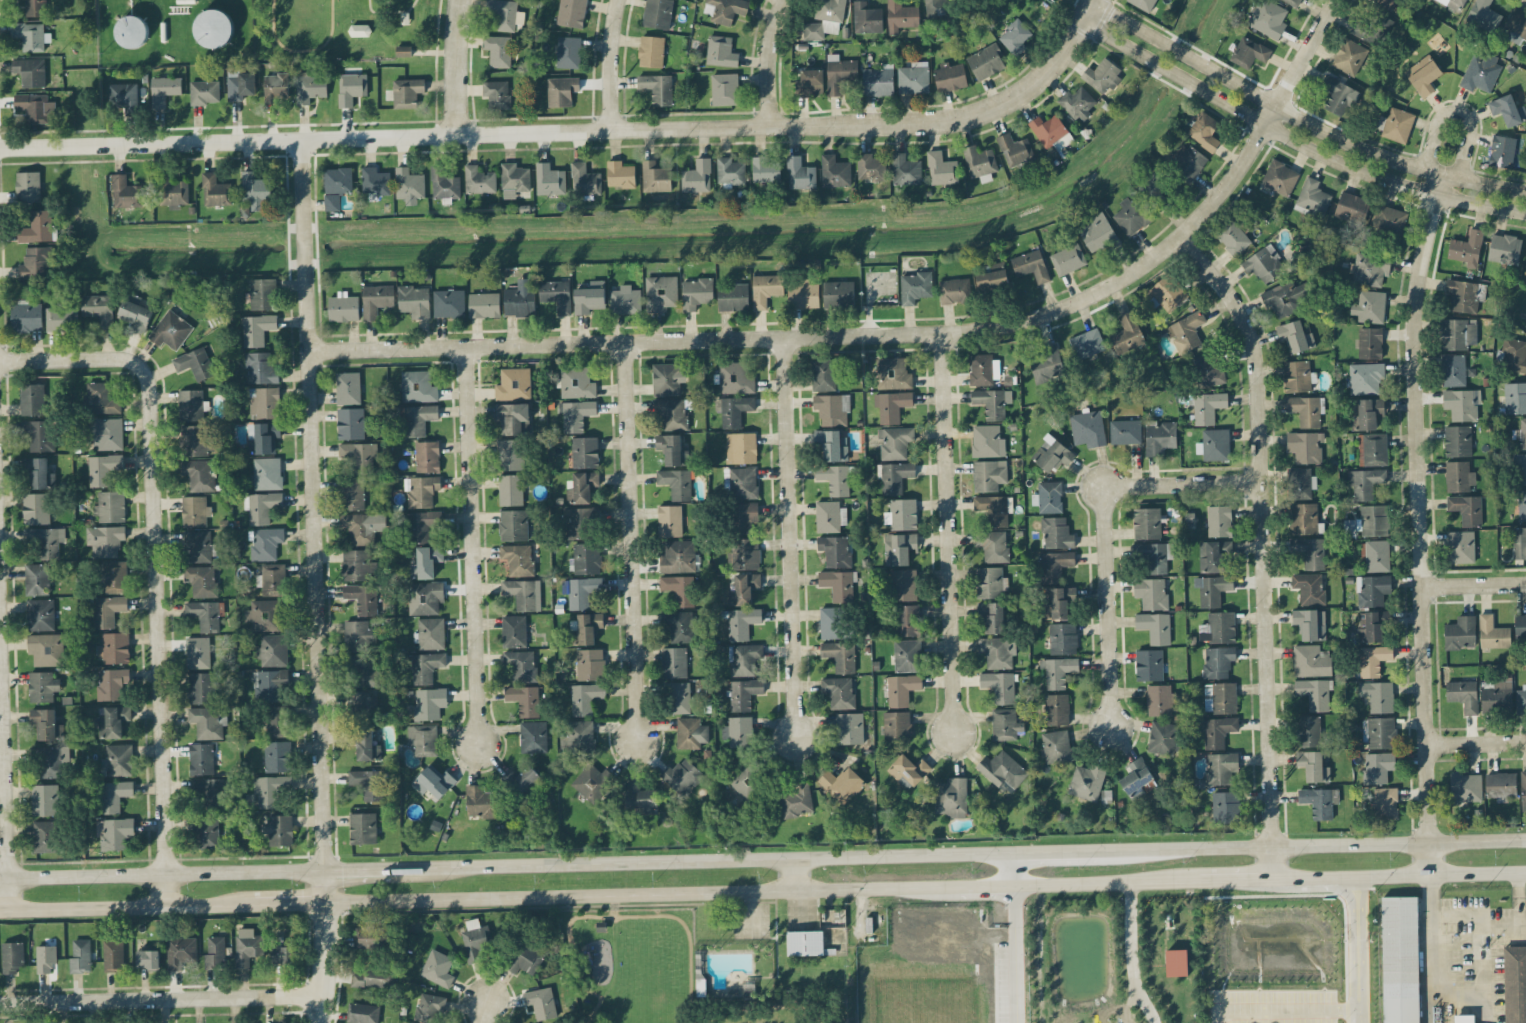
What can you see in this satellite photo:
building: (1294, 2)
building: (1386, 3)
building: (1453, 3)
building: (1143, 4)
building: (34, 7)
building: (935, 8)
building: (724, 10)
building: (830, 10)
building: (505, 13)
building: (571, 13)
building: (657, 13)
building: (1484, 15)
building: (901, 16)
building: (866, 17)
building: (1268, 18)
building: (1516, 25)
building: (213, 27)
building: (1371, 29)
building: (359, 30)
building: (813, 30)
building: (131, 31)
building: (30, 35)
building: (1015, 37)
building: (403, 50)
building: (498, 50)
building: (651, 50)
building: (568, 51)
building: (721, 51)
building: (1249, 52)
building: (1349, 56)
road: (771, 60)
building: (986, 61)
road: (616, 63)
road: (458, 65)
building: (1481, 70)
building: (30, 71)
building: (839, 73)
building: (1102, 75)
building: (1423, 75)
building: (949, 76)
building: (913, 77)
building: (878, 80)
building: (810, 82)
building: (239, 83)
building: (276, 86)
building: (310, 86)
building: (657, 87)
building: (351, 88)
building: (724, 88)
building: (164, 90)
building: (561, 90)
building: (204, 91)
building: (407, 92)
building: (496, 93)
building: (1338, 95)
building: (123, 96)
building: (1078, 103)
building: (35, 106)
building: (1507, 109)
road: (1300, 117)
building: (1395, 123)
road: (572, 129)
building: (1051, 131)
building: (1204, 131)
road: (1295, 138)
building: (1015, 149)
building: (1502, 150)
building: (980, 162)
building: (1188, 162)
building: (870, 167)
building: (942, 168)
building: (905, 169)
building: (765, 170)
building: (730, 171)
building: (834, 171)
building: (800, 173)
building: (620, 174)
building: (655, 176)
building: (697, 176)
building: (1280, 177)
building: (337, 179)
building: (479, 179)
building: (514, 179)
building: (549, 179)
building: (584, 179)
building: (375, 181)
building: (408, 183)
building: (444, 184)
building: (1154, 185)
building: (28, 186)
building: (255, 189)
building: (215, 190)
building: (124, 191)
building: (172, 191)
building: (1312, 197)
building: (331, 201)
building: (1352, 207)
building: (1131, 215)
building: (1389, 219)
building: (37, 227)
building: (1097, 232)
building: (1232, 237)
building: (1466, 248)
building: (1504, 248)
building: (1067, 258)
building: (35, 262)
building: (1263, 263)
building: (1031, 265)
building: (1369, 269)
building: (992, 276)
building: (915, 286)
building: (766, 289)
building: (953, 290)
building: (660, 292)
building: (697, 292)
building: (262, 293)
building: (1167, 293)
building: (556, 294)
building: (803, 294)
building: (838, 294)
building: (1463, 295)
building: (733, 296)
building: (589, 297)
building: (519, 298)
building: (376, 299)
building: (625, 299)
building: (1281, 299)
building: (414, 300)
building: (449, 302)
building: (484, 304)
building: (1369, 306)
building: (343, 307)
building: (98, 308)
building: (134, 312)
building: (26, 317)
building: (61, 318)
building: (256, 328)
building: (170, 330)
building: (1186, 332)
building: (1127, 333)
building: (1458, 333)
road: (898, 336)
building: (1295, 336)
building: (1370, 342)
building: (1086, 343)
building: (1514, 355)
building: (194, 363)
building: (1046, 364)
building: (260, 367)
building: (983, 368)
building: (1208, 369)
building: (1453, 370)
building: (892, 373)
building: (822, 374)
building: (1296, 375)
building: (735, 377)
building: (667, 378)
building: (1365, 378)
building: (576, 382)
building: (513, 384)
building: (418, 386)
building: (348, 387)
building: (1515, 397)
building: (101, 398)
building: (31, 399)
building: (263, 402)
building: (992, 402)
building: (1462, 403)
building: (190, 404)
building: (891, 405)
building: (1207, 406)
building: (832, 408)
building: (733, 409)
building: (1305, 409)
building: (673, 412)
building: (1367, 413)
building: (575, 414)
building: (513, 417)
building: (418, 419)
building: (351, 422)
building: (1087, 427)
building: (1125, 431)
building: (1520, 432)
building: (107, 433)
building: (39, 434)
building: (262, 437)
building: (1160, 437)
building: (195, 439)
building: (987, 440)
building: (1457, 440)
building: (894, 441)
building: (831, 444)
building: (1214, 444)
building: (1305, 446)
building: (741, 447)
building: (672, 449)
building: (1372, 449)
building: (584, 452)
building: (1051, 453)
building: (510, 454)
building: (358, 455)
building: (427, 456)
building: (103, 468)
building: (1520, 468)
building: (39, 472)
building: (267, 473)
building: (198, 474)
building: (988, 474)
building: (895, 476)
building: (1458, 476)
building: (834, 478)
building: (676, 482)
building: (740, 482)
building: (1300, 482)
building: (1365, 482)
building: (581, 486)
road: (1422, 486)
road: (1101, 487)
building: (510, 489)
building: (422, 490)
building: (351, 493)
building: (1048, 496)
building: (1521, 504)
building: (110, 506)
building: (261, 506)
building: (35, 508)
building: (994, 508)
building: (1466, 508)
building: (195, 510)
building: (902, 513)
building: (744, 516)
building: (829, 516)
building: (1303, 518)
building: (669, 520)
building: (1219, 520)
building: (1368, 522)
building: (576, 523)
building: (1146, 523)
building: (513, 524)
building: (420, 525)
building: (363, 526)
road: (1107, 531)
building: (1056, 532)
road: (947, 534)
road: (790, 539)
building: (45, 540)
building: (104, 540)
building: (1519, 542)
building: (265, 543)
road: (633, 544)
road: (1267, 544)
building: (993, 545)
building: (197, 546)
building: (1460, 546)
road: (472, 547)
building: (898, 547)
building: (835, 550)
building: (1310, 551)
building: (744, 554)
building: (1213, 555)
building: (1375, 555)
building: (677, 556)
building: (1152, 556)
building: (518, 558)
building: (585, 558)
road: (157, 562)
building: (426, 562)
building: (356, 564)
building: (1054, 565)
building: (114, 576)
building: (36, 578)
building: (271, 579)
building: (201, 580)
road: (315, 581)
building: (989, 581)
road: (1476, 582)
building: (838, 584)
building: (903, 584)
building: (743, 588)
building: (1309, 588)
building: (679, 589)
building: (1213, 589)
building: (1372, 590)
building: (580, 591)
building: (1151, 592)
building: (520, 593)
building: (425, 597)
building: (362, 598)
building: (1061, 602)
building: (107, 610)
building: (40, 614)
building: (205, 614)
building: (263, 614)
building: (992, 615)
building: (908, 619)
building: (742, 622)
building: (831, 622)
building: (1310, 623)
building: (677, 625)
building: (1520, 625)
building: (588, 626)
building: (1154, 626)
building: (1371, 626)
building: (1218, 627)
building: (514, 630)
building: (430, 632)
building: (1460, 632)
building: (1492, 633)
building: (359, 635)
building: (1062, 638)
building: (114, 647)
building: (46, 649)
building: (272, 650)
building: (997, 651)
building: (197, 652)
building: (840, 655)
building: (906, 655)
building: (743, 658)
building: (1373, 659)
building: (1311, 660)
building: (1218, 661)
building: (674, 662)
building: (589, 664)
building: (1148, 664)
building: (521, 665)
building: (426, 666)
building: (364, 670)
building: (1057, 671)
building: (111, 682)
building: (268, 683)
building: (42, 686)
building: (999, 686)
building: (201, 687)
building: (902, 688)
building: (839, 691)
building: (742, 692)
building: (1315, 693)
building: (1463, 694)
building: (1377, 695)
building: (1496, 696)
building: (585, 697)
building: (678, 697)
building: (1220, 697)
building: (1521, 698)
building: (524, 699)
building: (1160, 700)
building: (361, 701)
building: (429, 703)
building: (1056, 709)
building: (112, 720)
building: (276, 720)
building: (206, 722)
building: (46, 723)
building: (1005, 724)
building: (897, 725)
building: (850, 728)
building: (738, 731)
building: (1217, 731)
building: (1308, 731)
building: (690, 732)
building: (1379, 732)
building: (533, 736)
building: (579, 736)
building: (1163, 737)
building: (423, 739)
road: (1478, 740)
building: (367, 745)
building: (1056, 746)
building: (276, 756)
building: (200, 758)
building: (117, 760)
building: (49, 761)
building: (1313, 766)
building: (1378, 766)
building: (1221, 767)
building: (908, 770)
building: (1003, 771)
building: (681, 775)
building: (1135, 777)
road: (4, 780)
building: (433, 781)
building: (523, 781)
building: (592, 781)
building: (1086, 781)
building: (744, 782)
building: (367, 783)
building: (1199, 783)
building: (841, 784)
building: (1500, 785)
building: (1465, 787)
building: (1523, 787)
building: (204, 788)
building: (269, 789)
building: (115, 794)
building: (951, 796)
building: (640, 797)
building: (45, 799)
building: (796, 800)
building: (481, 801)
building: (1319, 801)
building: (1385, 802)
building: (1225, 806)
building: (362, 827)
building: (278, 829)
building: (204, 831)
building: (116, 833)
building: (45, 836)
road: (1159, 848)
road: (613, 862)
road: (379, 868)
road: (162, 874)
road: (1398, 874)
road: (793, 875)
road: (1234, 880)
road: (1434, 884)
road: (762, 893)
road: (289, 903)
road: (126, 907)
road: (1506, 924)
road: (1360, 932)
building: (368, 935)
building: (475, 938)
building: (805, 942)
building: (247, 946)
building: (180, 951)
building: (215, 951)
building: (281, 951)
road: (1039, 954)
building: (113, 955)
road: (1014, 955)
road: (1132, 955)
building: (11, 956)
building: (80, 956)
building: (148, 958)
building: (526, 958)
building: (45, 959)
building: (1400, 959)
building: (1176, 962)
building: (437, 967)
building: (369, 978)
road: (1438, 981)
building: (1515, 983)
road: (160, 995)
road: (1360, 1000)
building: (541, 1002)
road: (1128, 1003)
building: (429, 1007)
road: (484, 1011)
building: (362, 1013)
road: (1290, 1013)
road: (1361, 1018)
building: (1464, 1018)

